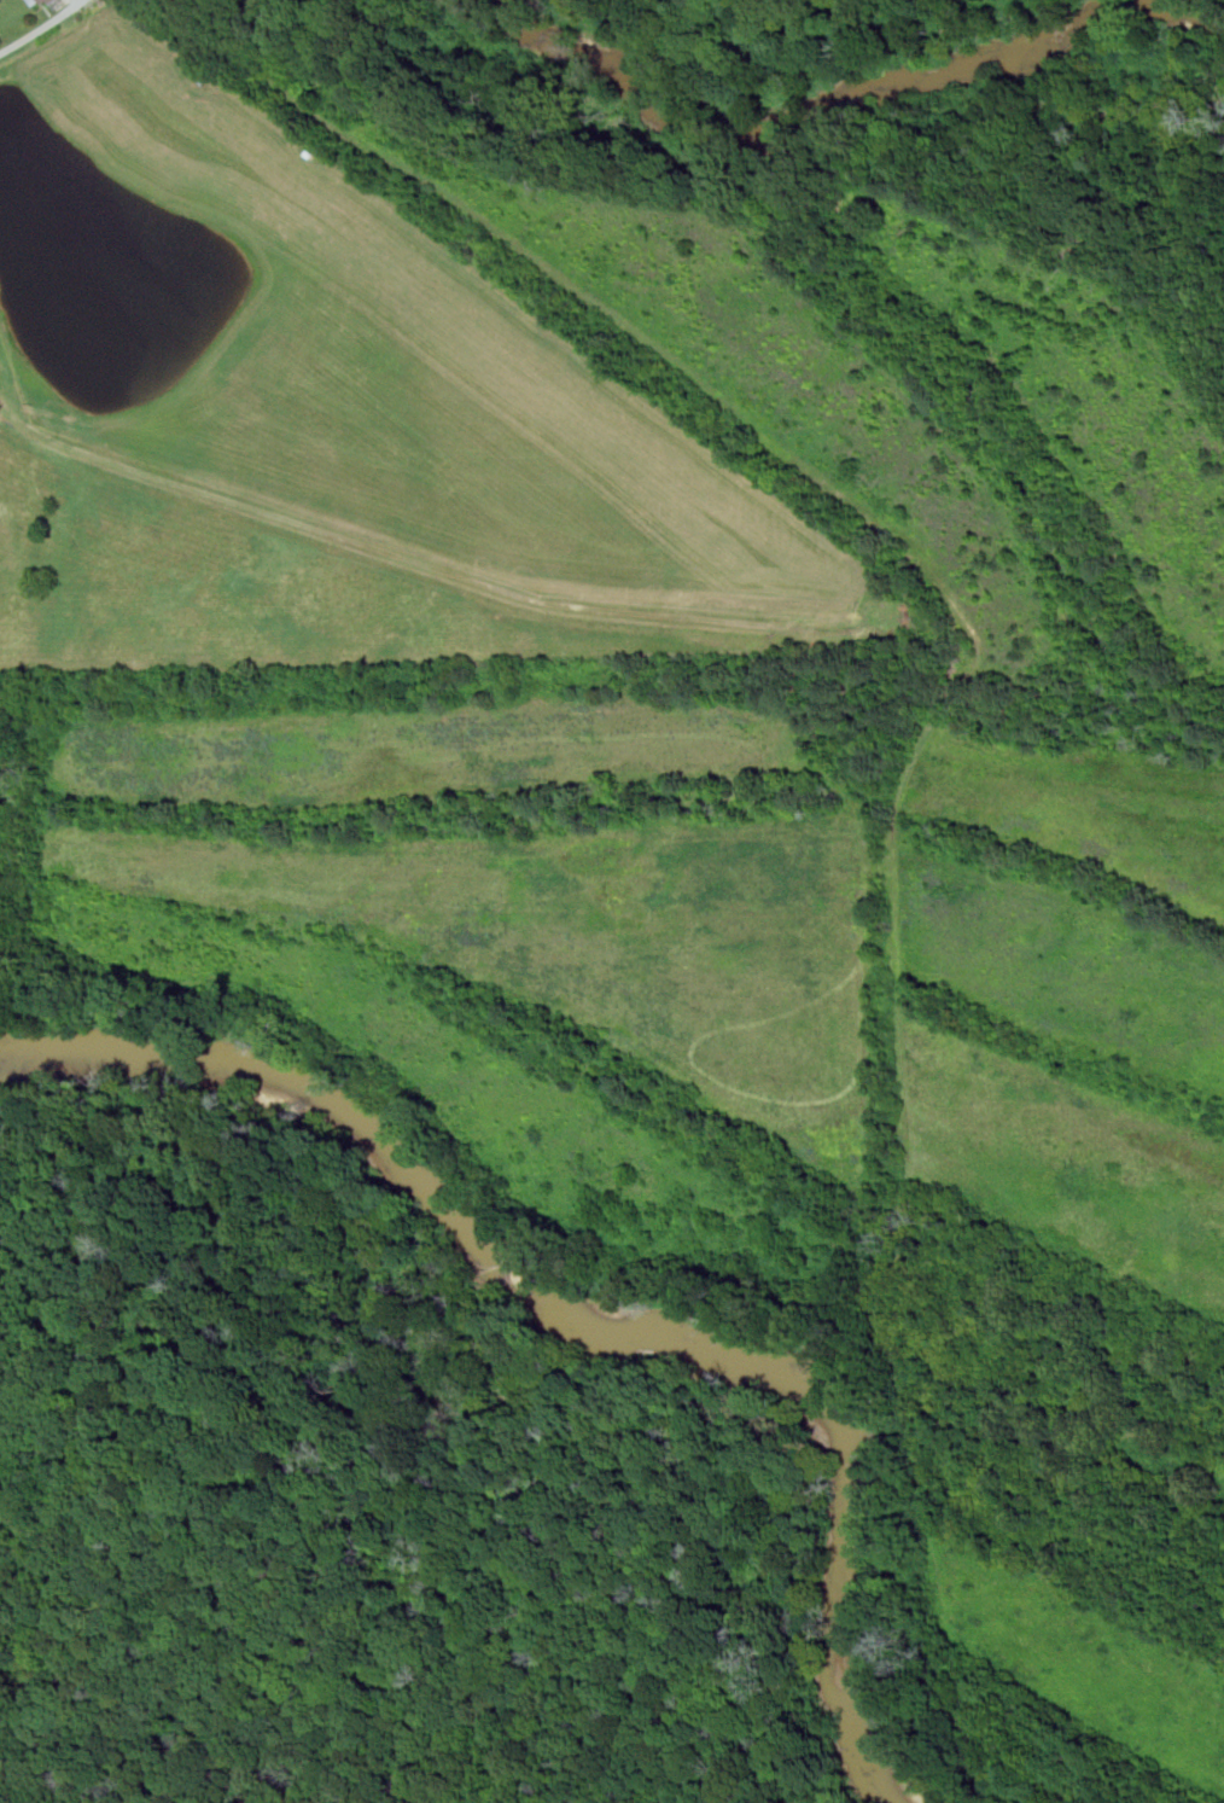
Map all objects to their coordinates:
building: (40, 1)
road: (41, 27)
river: (853, 109)
river: (582, 1324)
road: (338, 1654)

